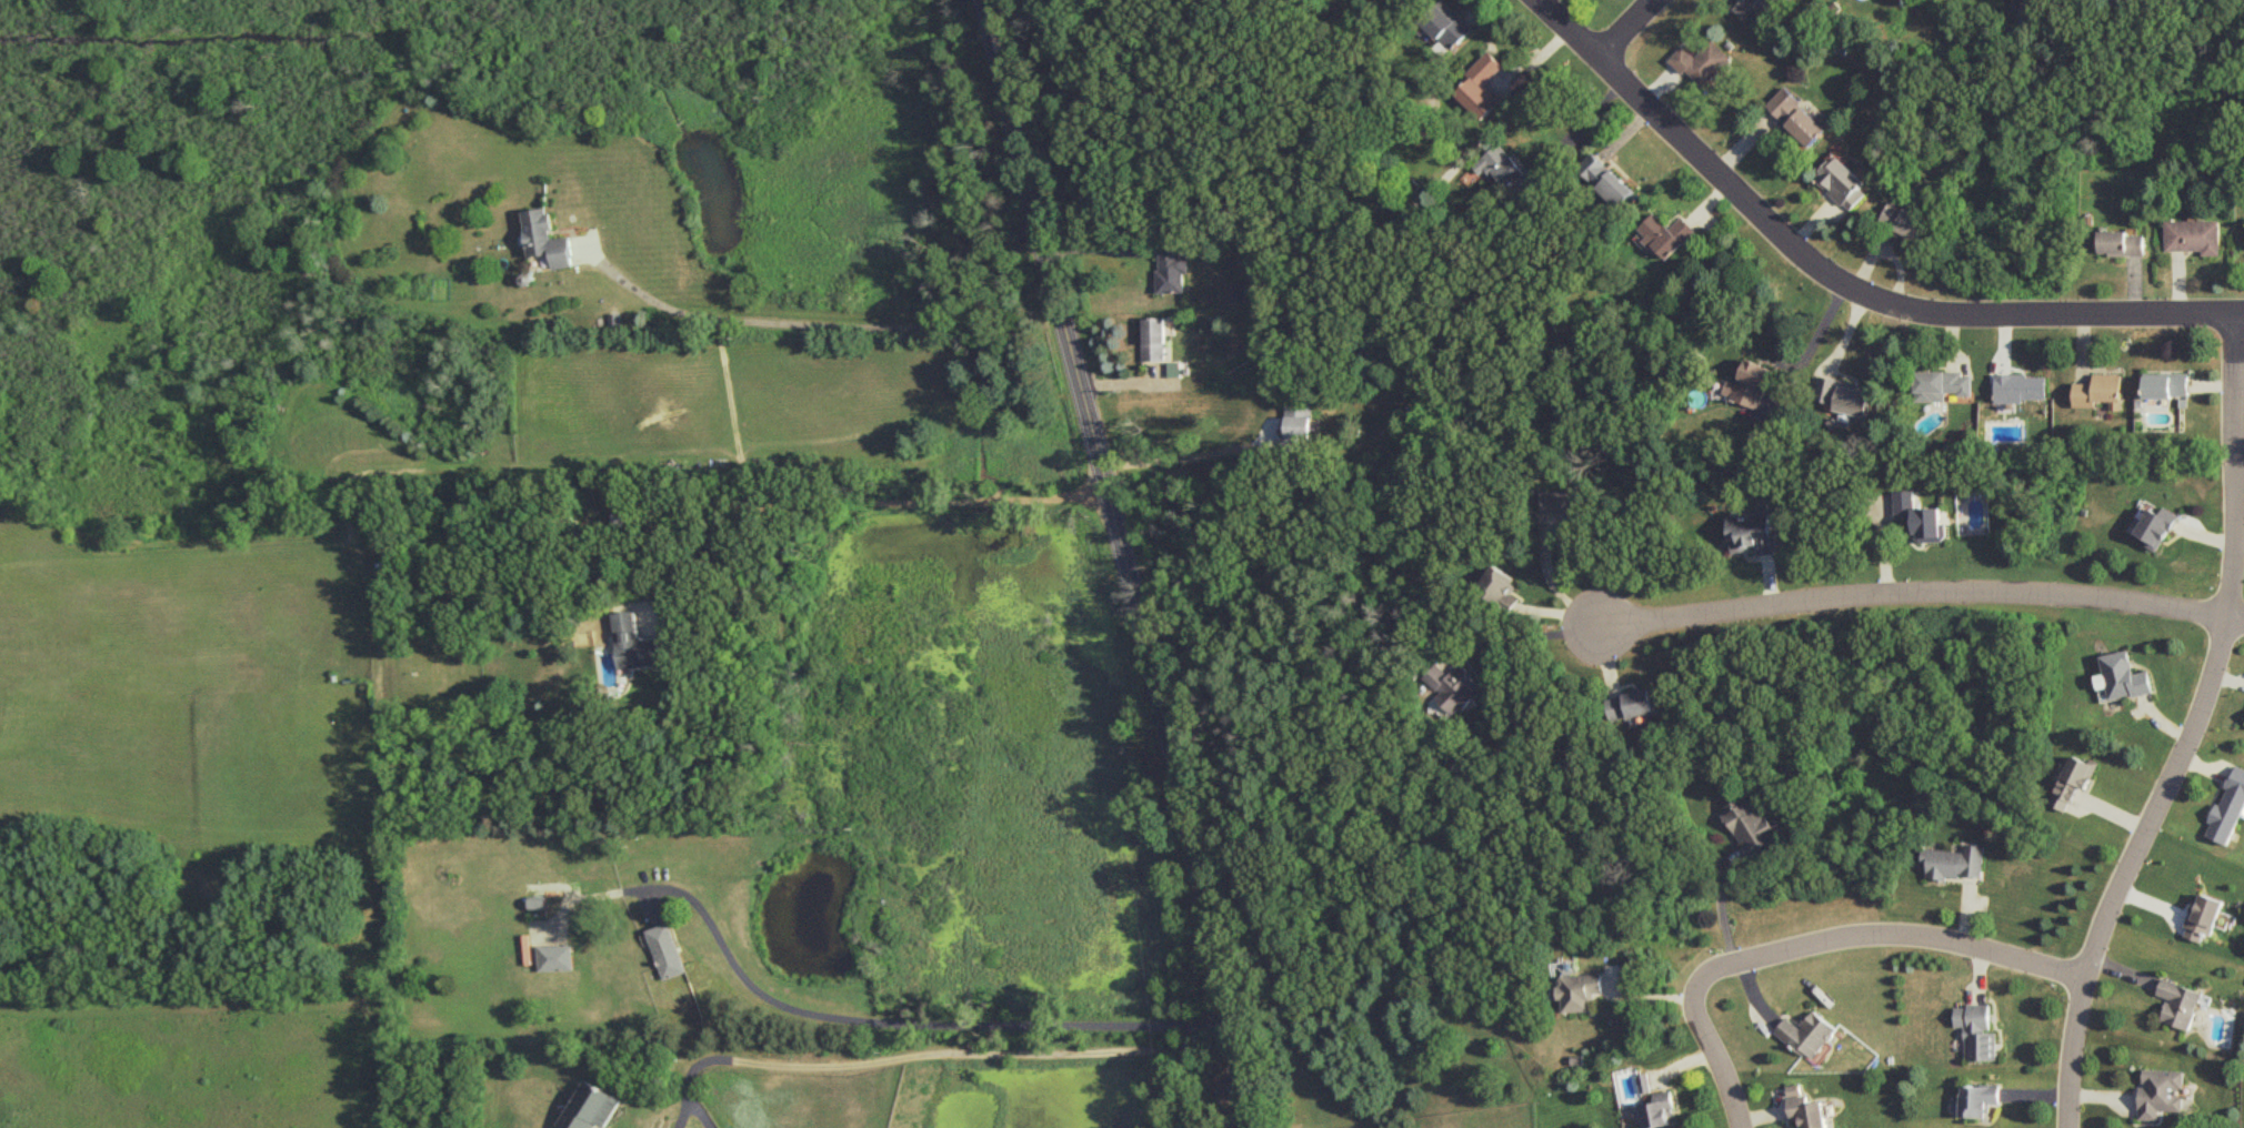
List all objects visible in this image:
building: (1752, 9)
building: (1447, 24)
road: (1624, 26)
building: (1701, 61)
building: (1481, 85)
building: (1795, 115)
road: (1582, 120)
building: (1507, 169)
building: (1606, 179)
building: (1840, 181)
building: (1902, 219)
building: (1667, 233)
building: (2193, 235)
building: (545, 238)
building: (2120, 242)
building: (1171, 266)
road: (1842, 276)
road: (832, 323)
building: (1153, 338)
road: (1810, 344)
building: (1173, 367)
building: (1750, 383)
building: (1941, 384)
building: (2166, 384)
building: (2020, 386)
building: (2100, 391)
building: (1843, 395)
building: (1301, 417)
road: (1186, 455)
road: (856, 500)
building: (1562, 500)
building: (620, 512)
building: (1920, 516)
building: (2156, 526)
building: (1754, 530)
road: (1121, 563)
road: (1555, 583)
building: (1501, 585)
road: (1916, 588)
road: (2237, 616)
road: (1529, 636)
building: (634, 642)
building: (2122, 675)
building: (1454, 686)
building: (1631, 704)
road: (2196, 728)
building: (2074, 780)
building: (2228, 807)
building: (1751, 825)
building: (1953, 860)
building: (2202, 917)
road: (1809, 936)
building: (665, 949)
building: (552, 957)
building: (1579, 989)
building: (2178, 1003)
road: (854, 1019)
building: (1974, 1030)
building: (1805, 1033)
road: (941, 1057)
building: (2160, 1092)
building: (1975, 1099)
building: (590, 1107)
building: (1804, 1108)
building: (1657, 1110)

